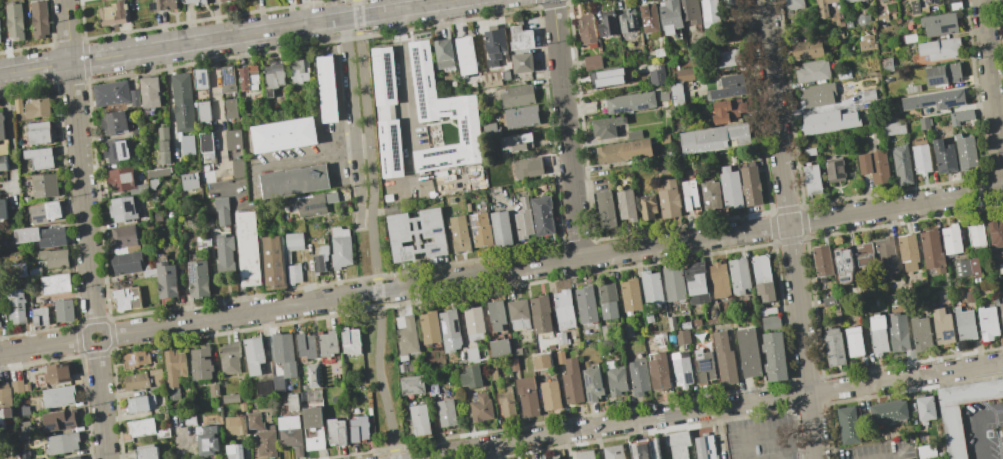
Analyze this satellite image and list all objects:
building: (225, 0)
building: (882, 0)
building: (195, 1)
building: (849, 1)
building: (165, 4)
building: (954, 4)
building: (793, 5)
building: (823, 6)
building: (729, 7)
building: (914, 7)
road: (355, 8)
building: (924, 9)
road: (331, 10)
building: (691, 11)
building: (112, 13)
building: (709, 13)
building: (670, 16)
building: (882, 18)
building: (40, 19)
building: (627, 19)
building: (649, 19)
building: (838, 19)
building: (863, 19)
building: (15, 22)
building: (607, 24)
building: (939, 24)
rooftop solar panel: (944, 27)
building: (585, 28)
building: (734, 32)
road: (229, 36)
building: (521, 38)
building: (908, 38)
building: (0, 40)
building: (866, 43)
building: (494, 45)
building: (808, 49)
building: (940, 49)
building: (445, 53)
building: (465, 55)
building: (725, 59)
building: (592, 61)
building: (522, 63)
building: (886, 64)
building: (299, 70)
building: (812, 71)
building: (684, 74)
building: (942, 74)
rooftop solar panel: (226, 76)
building: (657, 76)
building: (248, 77)
building: (273, 77)
building: (607, 77)
building: (386, 78)
building: (493, 78)
building: (199, 79)
building: (227, 79)
rooftop solar panel: (936, 79)
rooftop solar panel: (202, 80)
building: (728, 87)
building: (326, 89)
building: (912, 89)
building: (149, 91)
building: (110, 93)
building: (676, 94)
building: (868, 94)
building: (517, 95)
building: (815, 95)
road: (991, 95)
building: (133, 97)
road: (405, 99)
building: (934, 99)
building: (629, 101)
building: (182, 102)
rooftop solar panel: (927, 102)
rooftop solar panel: (952, 102)
building: (17, 105)
building: (37, 106)
road: (215, 106)
rooftop solar panel: (642, 106)
building: (229, 108)
rooftop solar panel: (620, 110)
building: (727, 110)
building: (203, 111)
building: (443, 113)
building: (521, 116)
building: (960, 116)
road: (352, 121)
building: (828, 121)
building: (113, 122)
building: (923, 122)
building: (607, 126)
building: (1, 127)
building: (893, 128)
building: (489, 129)
road: (567, 129)
building: (138, 132)
building: (39, 133)
building: (284, 134)
building: (633, 134)
building: (714, 137)
building: (232, 139)
building: (205, 142)
building: (512, 143)
building: (162, 144)
building: (186, 144)
building: (116, 150)
building: (392, 150)
building: (621, 151)
building: (809, 151)
building: (965, 151)
road: (303, 157)
building: (943, 157)
building: (39, 158)
building: (921, 158)
road: (79, 162)
building: (3, 163)
building: (901, 165)
building: (874, 166)
building: (527, 167)
building: (237, 168)
building: (834, 169)
building: (158, 172)
rooftop solar panel: (127, 177)
building: (811, 179)
building: (123, 181)
building: (189, 181)
building: (294, 181)
road: (444, 182)
building: (44, 185)
building: (750, 186)
building: (730, 188)
building: (710, 194)
building: (689, 195)
building: (668, 199)
building: (314, 203)
building: (626, 204)
rooftop solar panel: (313, 206)
building: (646, 207)
building: (2, 208)
building: (122, 208)
building: (606, 209)
building: (221, 210)
building: (44, 212)
road: (364, 213)
building: (542, 215)
rooftop solar panel: (474, 217)
building: (523, 220)
park: (368, 225)
rooftop solar panel: (475, 225)
building: (501, 228)
building: (480, 229)
road: (789, 229)
rooftop solar panel: (437, 230)
rooftop solar panel: (475, 230)
building: (995, 232)
building: (459, 233)
building: (416, 234)
building: (976, 234)
building: (40, 236)
building: (123, 236)
road: (372, 237)
building: (293, 240)
building: (951, 240)
building: (131, 248)
building: (247, 248)
building: (340, 248)
building: (931, 248)
road: (236, 249)
building: (119, 250)
rooftop solar panel: (435, 250)
building: (907, 252)
building: (224, 253)
building: (864, 254)
building: (885, 255)
building: (998, 257)
building: (54, 258)
building: (320, 258)
building: (822, 261)
building: (126, 262)
building: (272, 262)
road: (554, 263)
building: (842, 264)
building: (974, 267)
building: (961, 268)
building: (1001, 268)
building: (148, 270)
rooftop solar panel: (191, 272)
building: (293, 273)
building: (738, 276)
building: (197, 278)
building: (762, 278)
building: (166, 279)
building: (720, 282)
building: (54, 283)
building: (696, 283)
building: (673, 284)
building: (650, 288)
building: (944, 294)
building: (630, 295)
building: (969, 297)
building: (126, 298)
building: (608, 301)
building: (828, 301)
building: (585, 305)
building: (15, 306)
building: (563, 309)
building: (62, 310)
building: (1001, 313)
building: (495, 314)
building: (518, 314)
building: (540, 315)
building: (39, 316)
building: (712, 320)
building: (473, 322)
building: (696, 322)
building: (987, 322)
building: (448, 323)
building: (671, 323)
building: (770, 323)
building: (965, 324)
building: (684, 325)
building: (941, 326)
building: (429, 327)
building: (628, 331)
building: (606, 332)
building: (898, 332)
building: (919, 333)
building: (877, 334)
road: (106, 335)
building: (682, 337)
building: (406, 338)
building: (560, 339)
building: (659, 339)
building: (350, 340)
building: (854, 341)
building: (327, 343)
road: (41, 345)
building: (304, 345)
building: (833, 346)
building: (499, 347)
building: (748, 352)
building: (253, 354)
rooftop solar panel: (201, 355)
building: (472, 355)
building: (773, 356)
building: (229, 357)
building: (560, 357)
rooftop solar panel: (139, 358)
building: (724, 358)
building: (135, 359)
rooftop solar panel: (135, 359)
building: (282, 359)
building: (537, 360)
building: (201, 363)
building: (513, 364)
building: (704, 365)
rooftop solar panel: (705, 365)
building: (411, 366)
building: (174, 367)
building: (401, 367)
building: (681, 369)
building: (493, 371)
building: (659, 371)
building: (56, 373)
building: (156, 375)
building: (312, 376)
building: (471, 376)
building: (638, 377)
building: (615, 378)
building: (136, 381)
building: (572, 381)
building: (592, 383)
building: (411, 384)
building: (16, 386)
building: (432, 386)
building: (263, 388)
building: (213, 390)
building: (5, 394)
building: (549, 394)
building: (526, 396)
building: (57, 397)
building: (230, 398)
building: (291, 402)
building: (506, 402)
road: (101, 403)
building: (141, 403)
building: (926, 408)
building: (481, 409)
road: (704, 410)
building: (889, 411)
building: (445, 413)
building: (5, 418)
building: (258, 418)
building: (419, 419)
building: (59, 420)
building: (950, 421)
rooftop solar panel: (52, 424)
rooftop solar panel: (67, 424)
building: (848, 424)
building: (234, 425)
road: (978, 426)
building: (141, 427)
building: (313, 428)
building: (358, 428)
parking lot: (982, 428)
building: (335, 431)
building: (163, 433)
building: (290, 433)
road: (767, 433)
parking lot: (758, 438)
road: (998, 438)
building: (207, 439)
building: (62, 443)
building: (265, 443)
building: (677, 444)
building: (704, 447)
building: (645, 449)
parking lot: (881, 450)
building: (234, 451)
building: (146, 452)
building: (613, 452)
building: (927, 452)
building: (24, 454)
building: (585, 454)
road: (796, 456)
building: (71, 457)
building: (11, 458)
road: (418, 458)
building: (553, 458)

